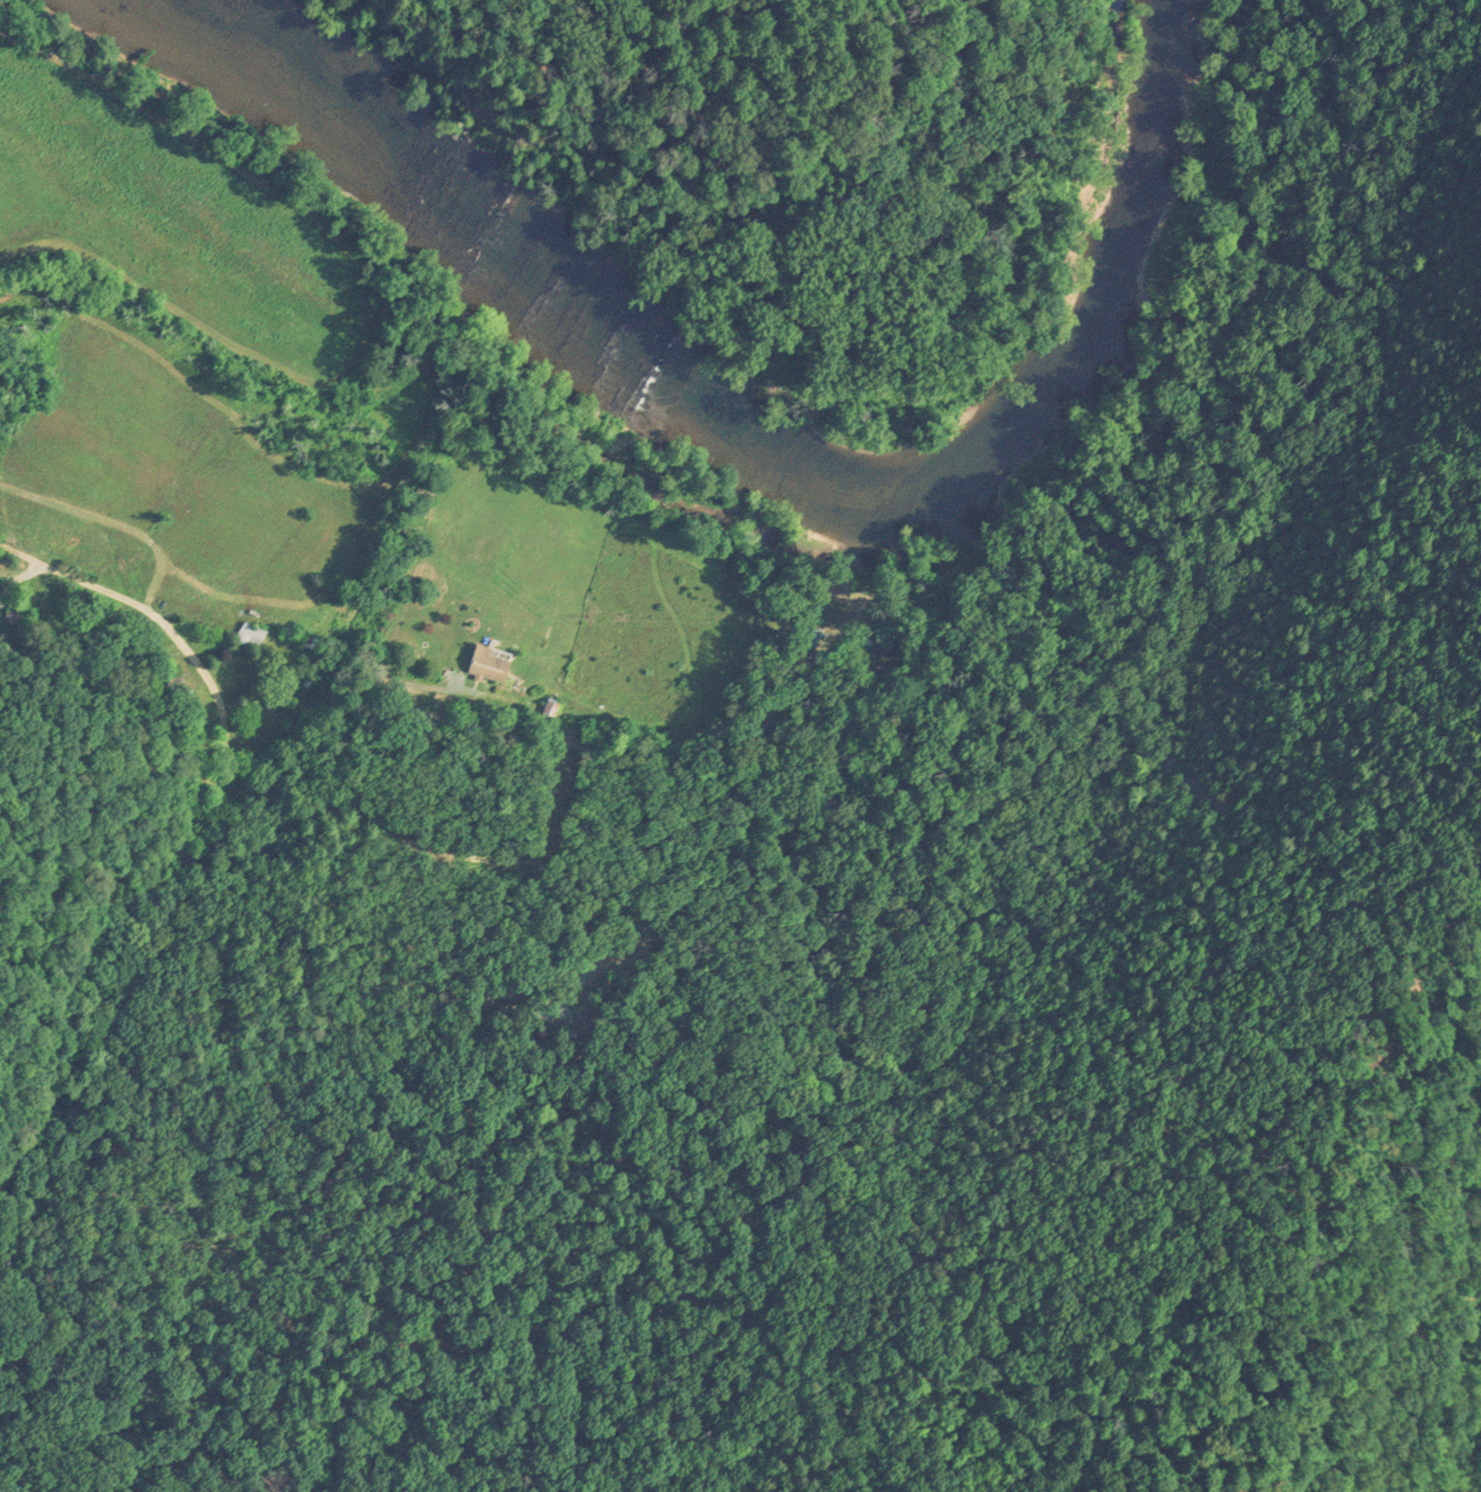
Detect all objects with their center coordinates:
crop: (172, 222)
river: (773, 438)
crop: (334, 548)
road: (197, 622)
building: (250, 632)
building: (488, 661)
road: (698, 706)
building: (502, 987)

